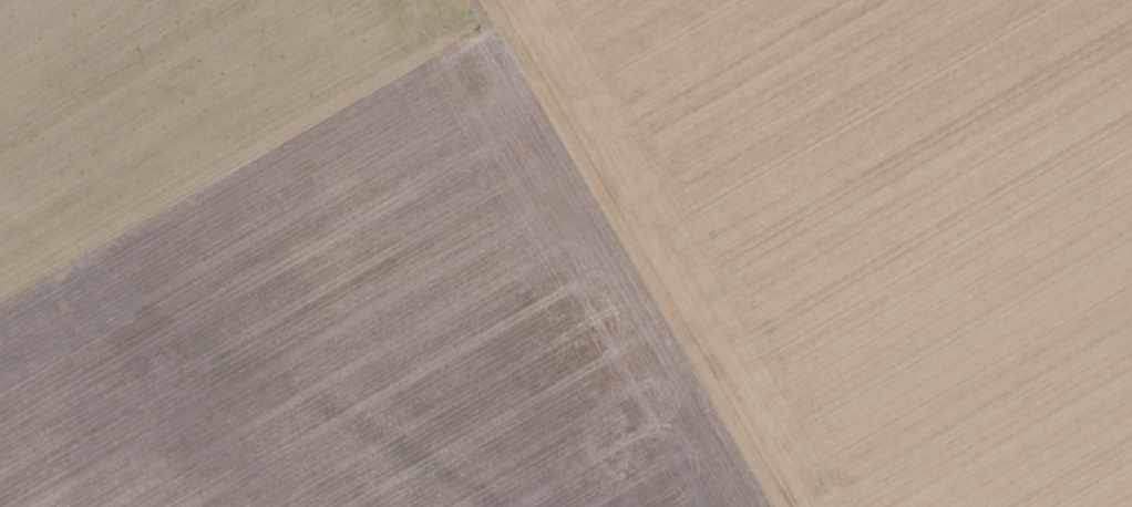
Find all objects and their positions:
road: (243, 152)
road: (626, 253)

